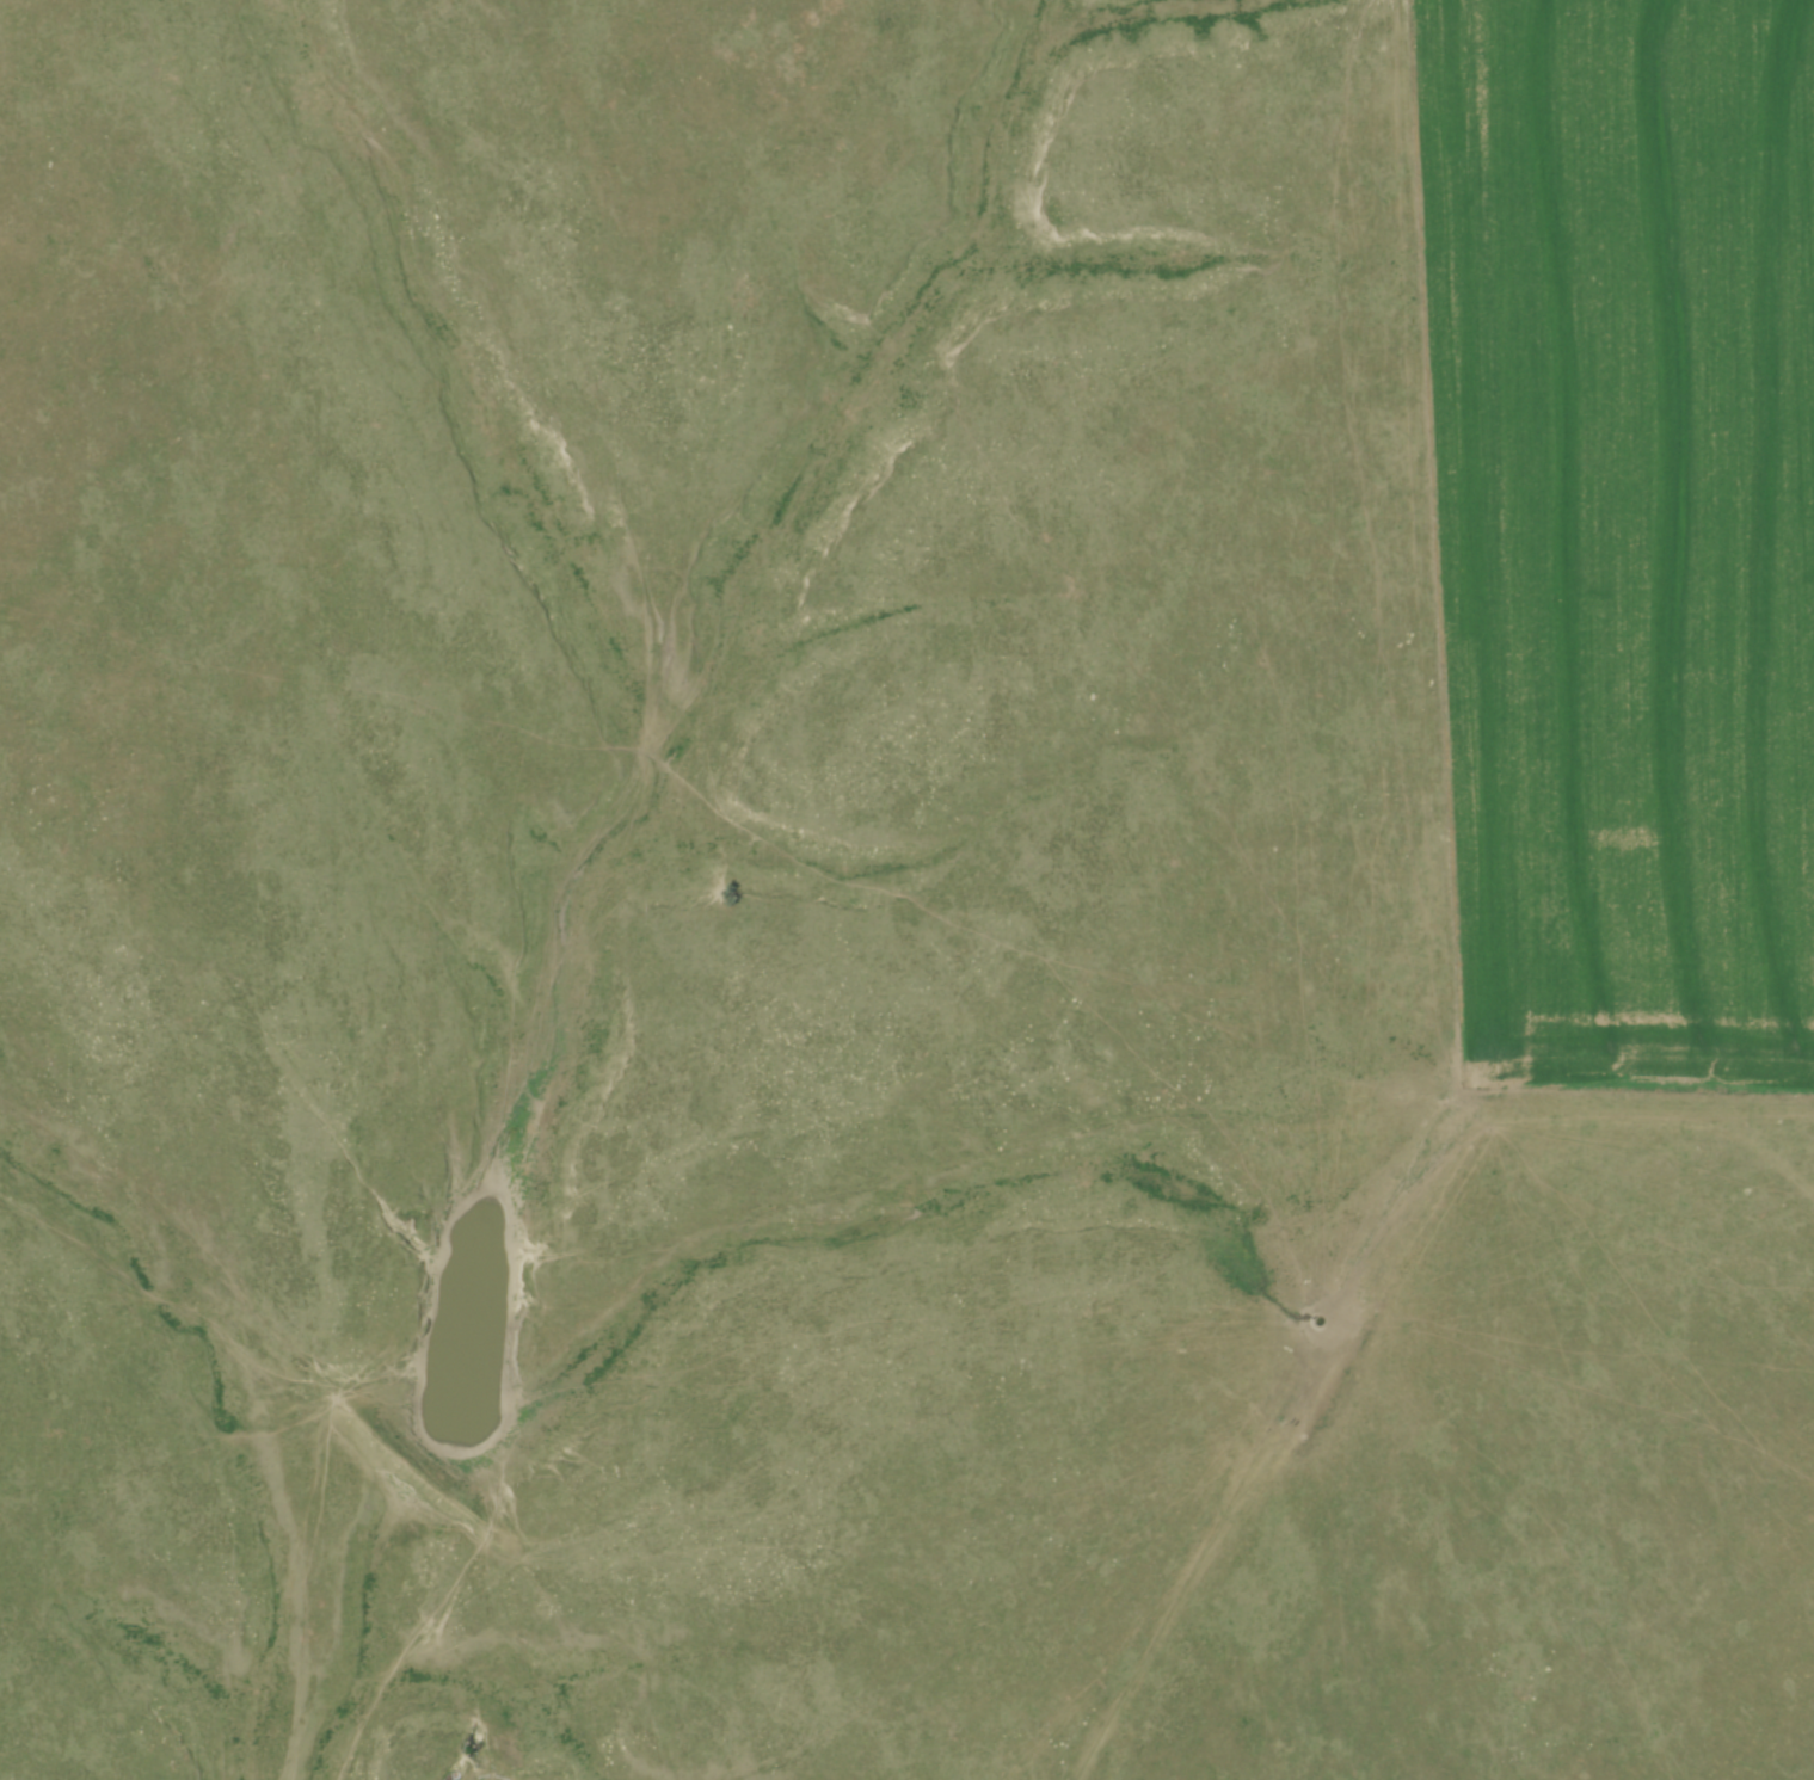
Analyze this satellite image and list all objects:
crop: (1621, 537)

